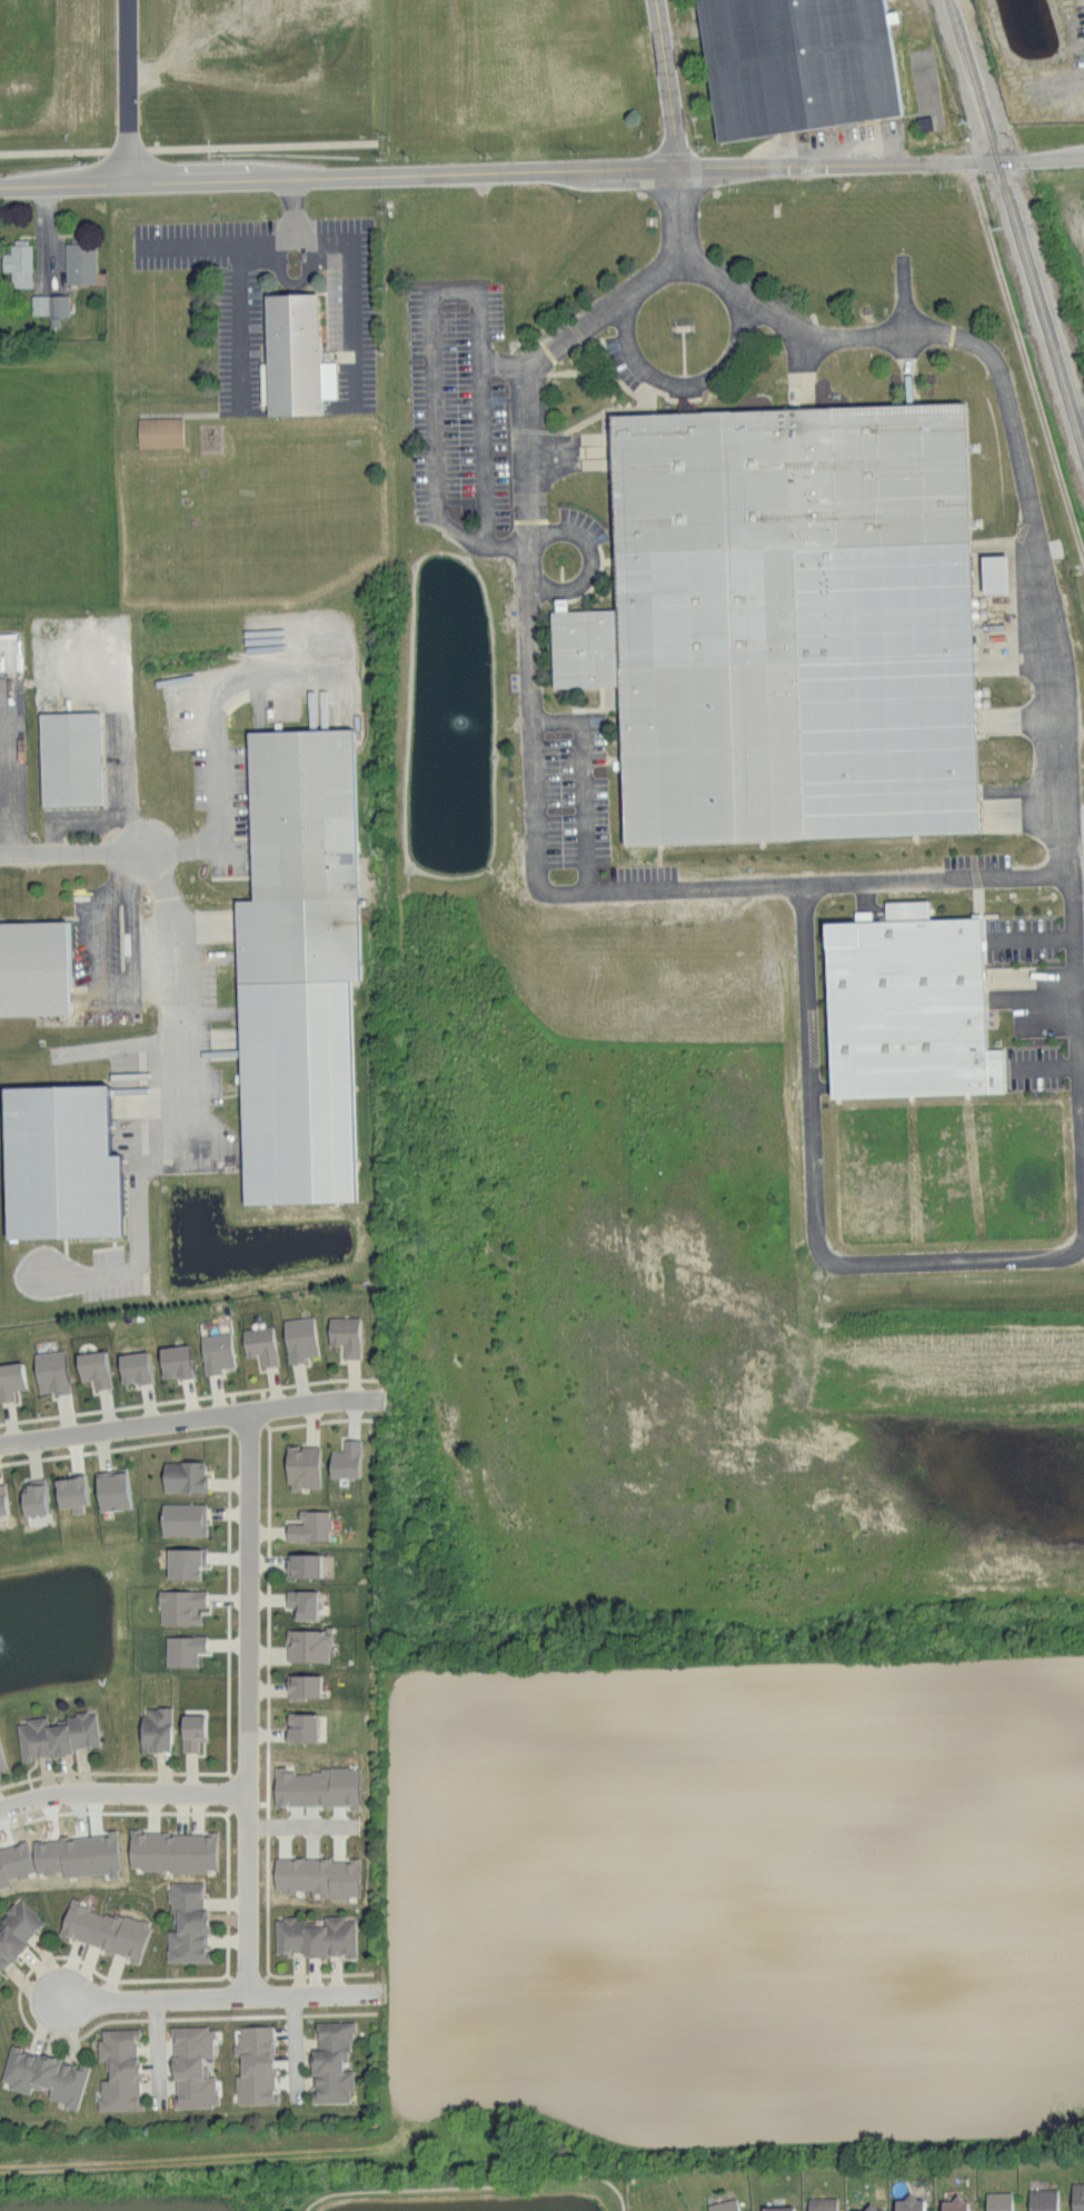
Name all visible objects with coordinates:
building: (810, 64)
road: (666, 86)
road: (130, 91)
road: (1058, 159)
road: (516, 175)
railway: (1016, 222)
crop: (1063, 233)
road: (50, 235)
building: (19, 262)
building: (79, 262)
road: (350, 265)
road: (236, 295)
road: (906, 296)
building: (49, 305)
parking lot: (243, 353)
building: (302, 358)
road: (804, 370)
road: (912, 371)
road: (434, 372)
road: (593, 372)
road: (692, 387)
road: (459, 406)
parking lot: (461, 418)
road: (565, 432)
building: (163, 435)
road: (578, 452)
road: (484, 455)
road: (530, 499)
road: (566, 502)
parking lot: (586, 525)
road: (1037, 552)
road: (590, 561)
road: (615, 562)
building: (903, 568)
building: (995, 571)
road: (590, 587)
building: (752, 600)
road: (591, 709)
parking lot: (262, 718)
parking lot: (87, 729)
road: (6, 740)
parking lot: (12, 749)
road: (123, 754)
road: (220, 754)
building: (79, 761)
road: (13, 773)
parking lot: (566, 773)
road: (583, 783)
road: (127, 831)
road: (63, 850)
building: (311, 865)
road: (129, 868)
road: (934, 876)
road: (163, 912)
parking lot: (110, 944)
parking lot: (170, 946)
building: (40, 975)
road: (107, 992)
building: (908, 1004)
road: (805, 1049)
building: (59, 1161)
building: (345, 1334)
building: (299, 1338)
building: (260, 1344)
building: (216, 1351)
building: (175, 1360)
building: (133, 1366)
building: (93, 1367)
building: (51, 1371)
building: (10, 1380)
road: (189, 1418)
building: (345, 1458)
building: (302, 1466)
building: (183, 1475)
building: (111, 1488)
building: (33, 1496)
building: (2, 1500)
crop: (736, 1510)
building: (182, 1518)
building: (309, 1525)
building: (185, 1562)
building: (302, 1564)
building: (302, 1602)
building: (180, 1605)
building: (307, 1644)
building: (183, 1650)
building: (304, 1685)
road: (247, 1703)
building: (301, 1726)
building: (156, 1729)
building: (191, 1731)
building: (56, 1735)
building: (1, 1761)
building: (316, 1786)
road: (122, 1793)
road: (298, 1825)
building: (172, 1851)
building: (317, 1875)
building: (187, 1923)
building: (103, 1929)
building: (17, 1930)
building: (315, 1935)
road: (317, 1993)
road: (153, 2000)
building: (331, 2061)
building: (255, 2065)
building: (192, 2066)
building: (119, 2069)
building: (43, 2074)
road: (470, 2188)
building: (1077, 2195)
building: (1043, 2199)
building: (998, 2200)
building: (909, 2202)
building: (822, 2203)
building: (954, 2203)
building: (724, 2204)
building: (777, 2207)
building: (865, 2208)

